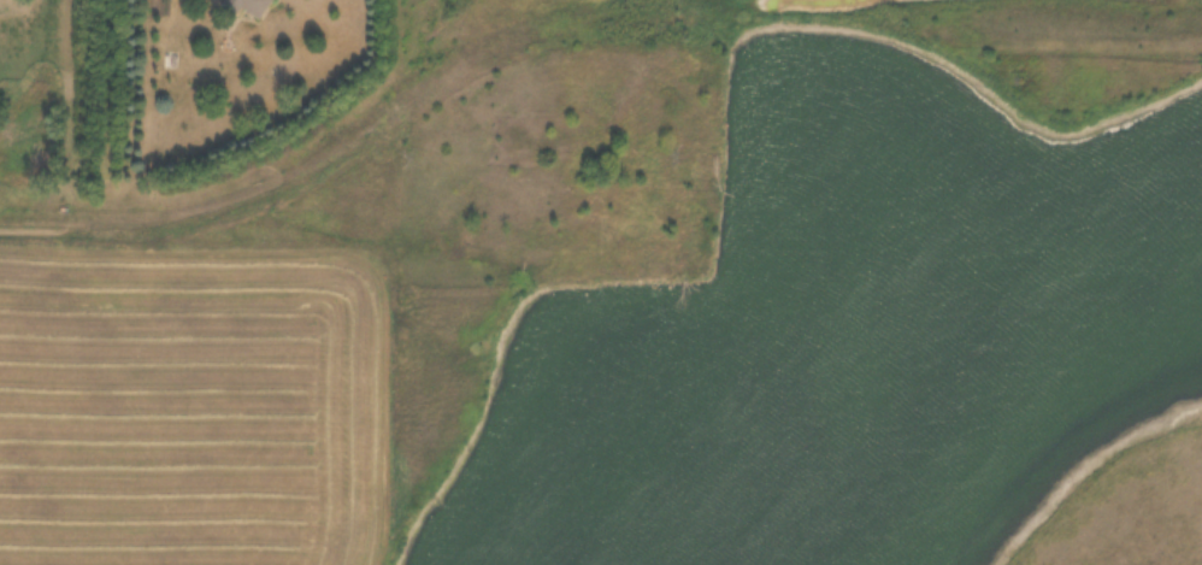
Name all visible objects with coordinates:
building: (253, 6)
road: (193, 193)

